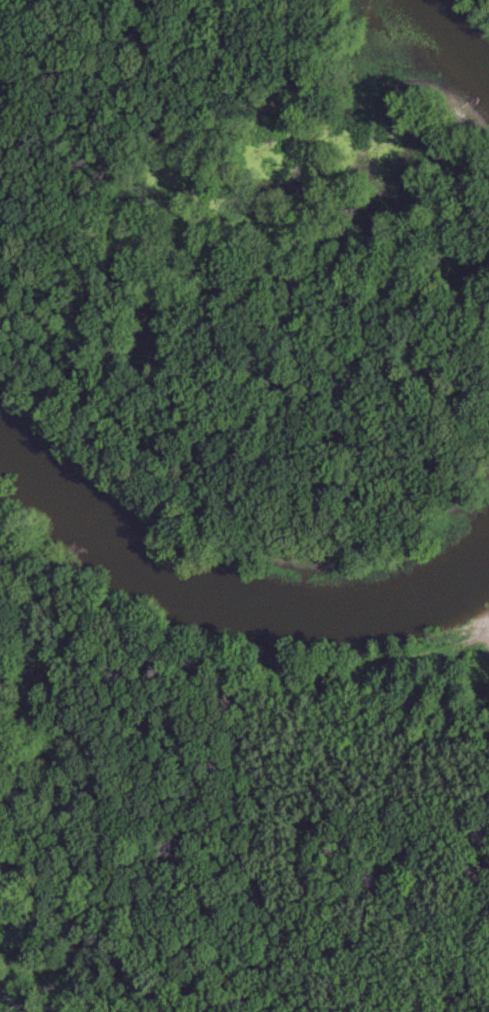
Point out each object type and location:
river: (452, 35)
river: (228, 603)

